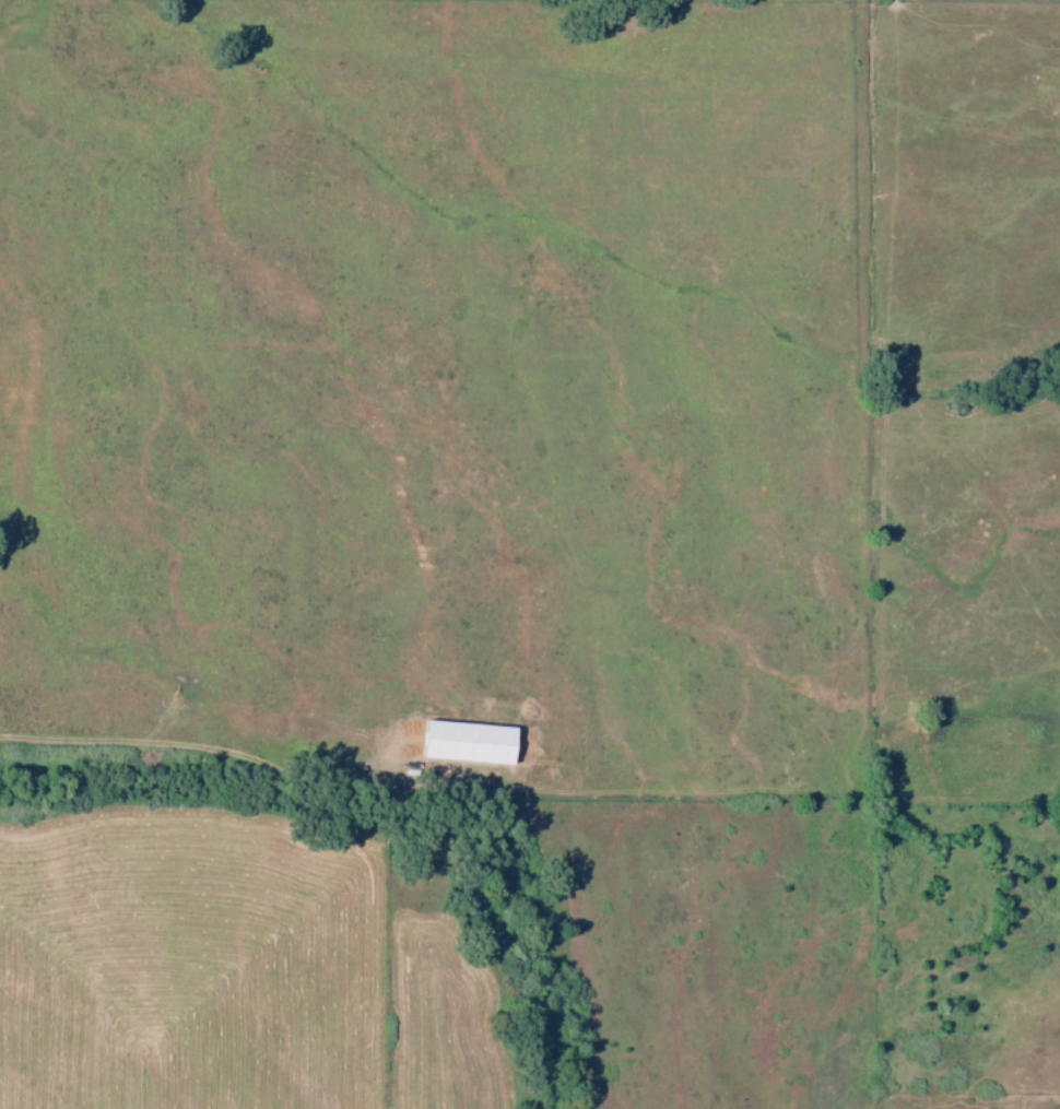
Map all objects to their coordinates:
building: (459, 742)

